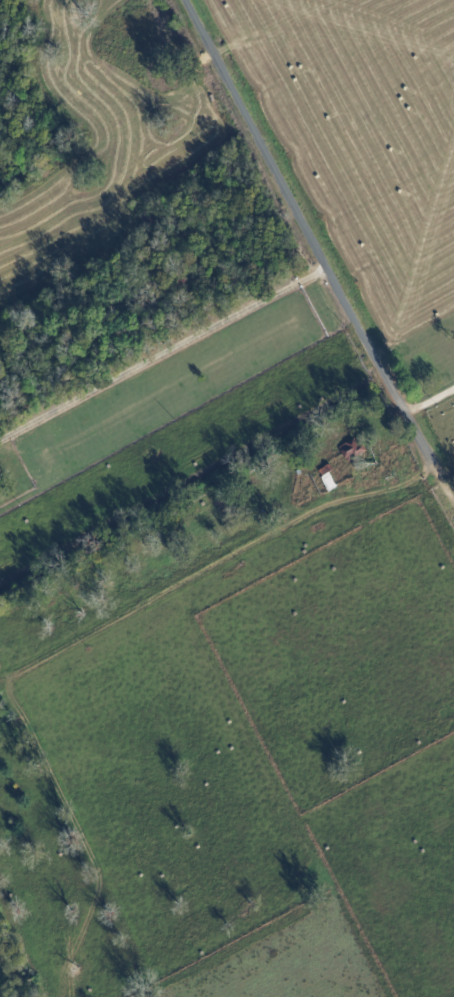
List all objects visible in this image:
road: (306, 236)
road: (161, 354)
road: (432, 406)
road: (213, 561)

